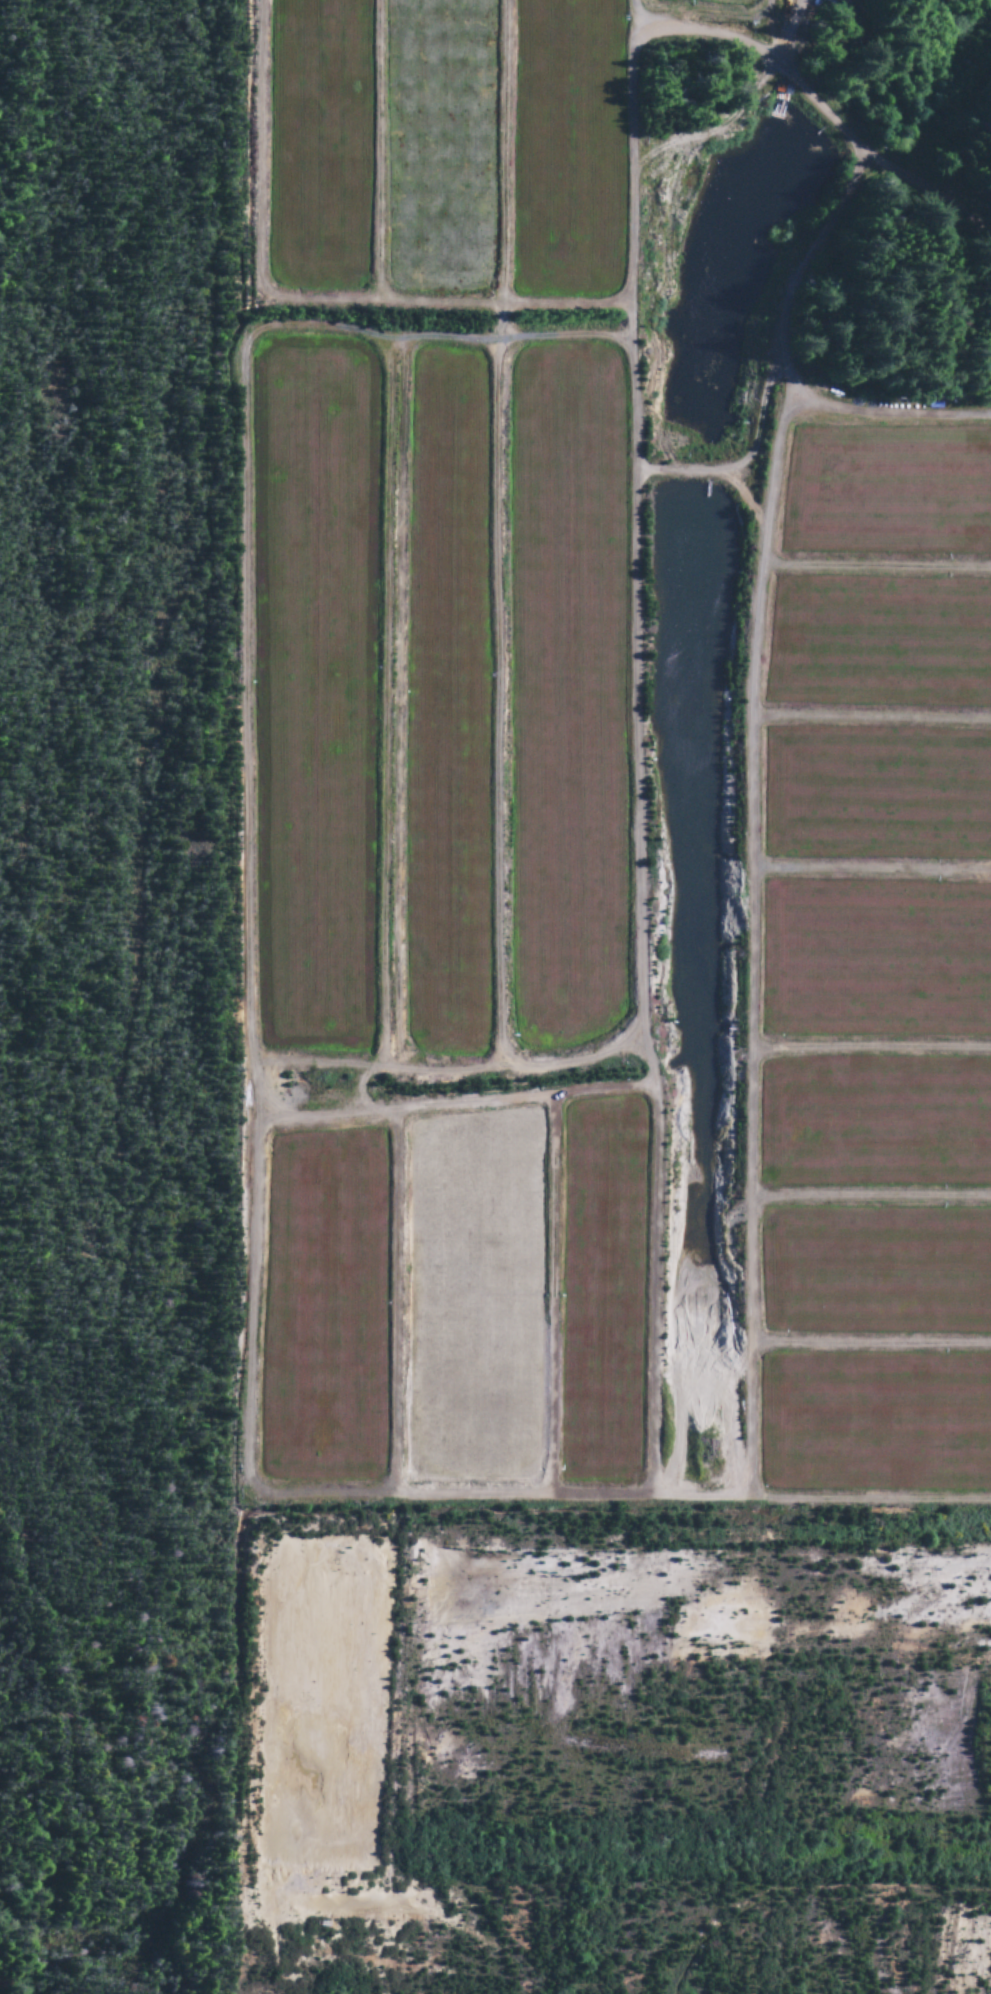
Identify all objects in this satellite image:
crop: (709, 4)
crop: (317, 146)
crop: (440, 149)
crop: (567, 150)
crop: (888, 494)
crop: (880, 643)
crop: (314, 692)
crop: (567, 695)
crop: (447, 705)
crop: (876, 798)
crop: (877, 959)
airport: (50, 1867)

